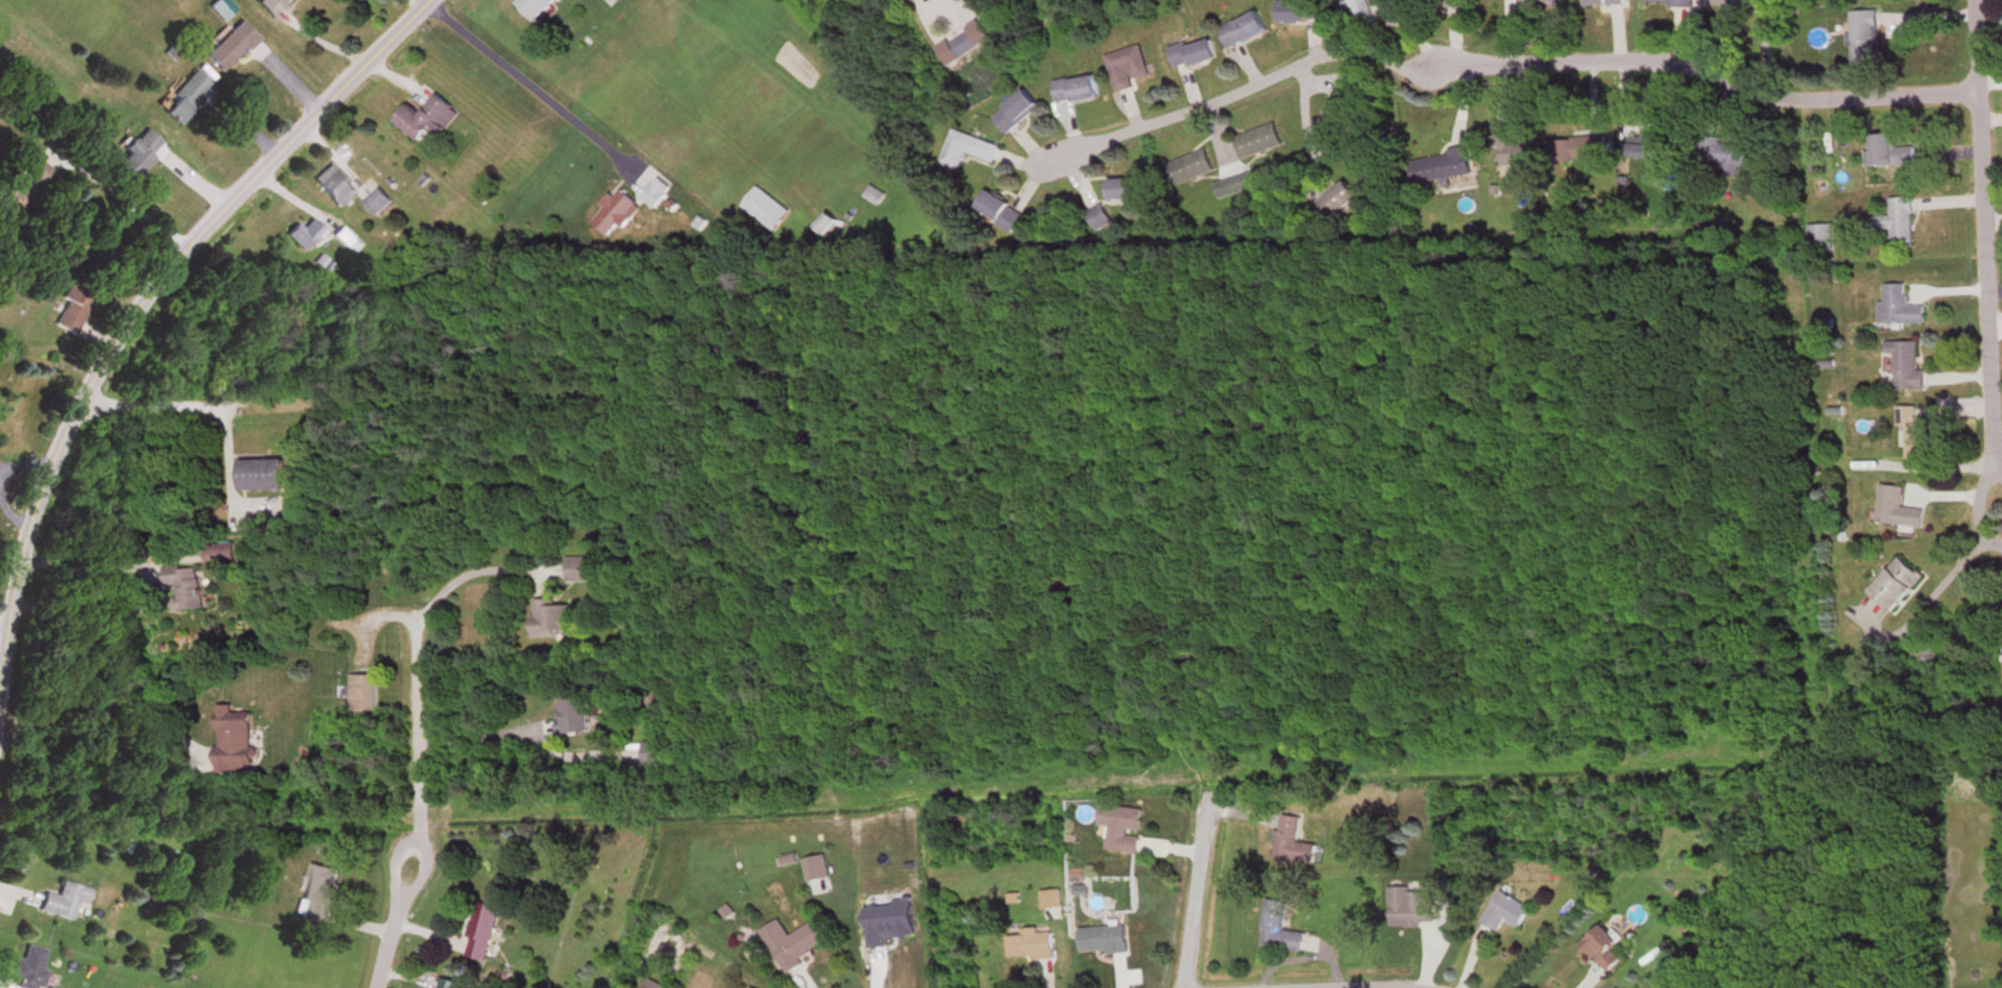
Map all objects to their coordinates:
building: (1671, 1)
building: (1607, 3)
road: (414, 4)
building: (1539, 4)
building: (1743, 4)
building: (274, 7)
building: (535, 8)
building: (220, 9)
building: (1299, 12)
building: (1361, 14)
building: (1244, 31)
building: (1865, 44)
building: (965, 46)
building: (230, 48)
building: (1194, 54)
road: (1487, 61)
building: (1127, 69)
road: (535, 86)
building: (1076, 91)
building: (184, 98)
building: (1340, 109)
building: (1016, 113)
building: (428, 121)
building: (1648, 141)
building: (1259, 143)
building: (968, 151)
building: (1583, 152)
building: (1520, 154)
building: (136, 155)
building: (1889, 155)
building: (1731, 159)
building: (1194, 168)
building: (1443, 168)
building: (25, 183)
building: (335, 187)
building: (653, 189)
building: (1123, 191)
building: (876, 197)
building: (378, 204)
building: (1336, 204)
building: (766, 211)
building: (617, 214)
building: (1101, 220)
building: (1901, 223)
building: (826, 225)
road: (1981, 232)
building: (306, 236)
building: (1822, 239)
building: (348, 241)
road: (143, 302)
building: (73, 308)
building: (1900, 308)
building: (1908, 367)
road: (308, 400)
building: (1915, 435)
road: (233, 460)
building: (261, 476)
building: (1898, 511)
building: (244, 516)
building: (222, 556)
building: (581, 571)
road: (483, 573)
building: (1897, 586)
building: (184, 590)
road: (147, 595)
building: (2000, 613)
building: (551, 619)
building: (364, 693)
road: (101, 702)
building: (574, 718)
road: (523, 728)
road: (417, 740)
building: (234, 741)
building: (659, 753)
building: (1122, 829)
building: (1293, 844)
building: (816, 871)
road: (400, 880)
road: (1186, 894)
building: (318, 895)
building: (64, 902)
building: (1413, 909)
building: (1507, 914)
building: (1280, 931)
building: (482, 932)
building: (1104, 941)
road: (380, 942)
building: (791, 945)
building: (1030, 945)
building: (1604, 950)
building: (31, 968)
road: (1588, 976)
building: (449, 984)
road: (1369, 987)

